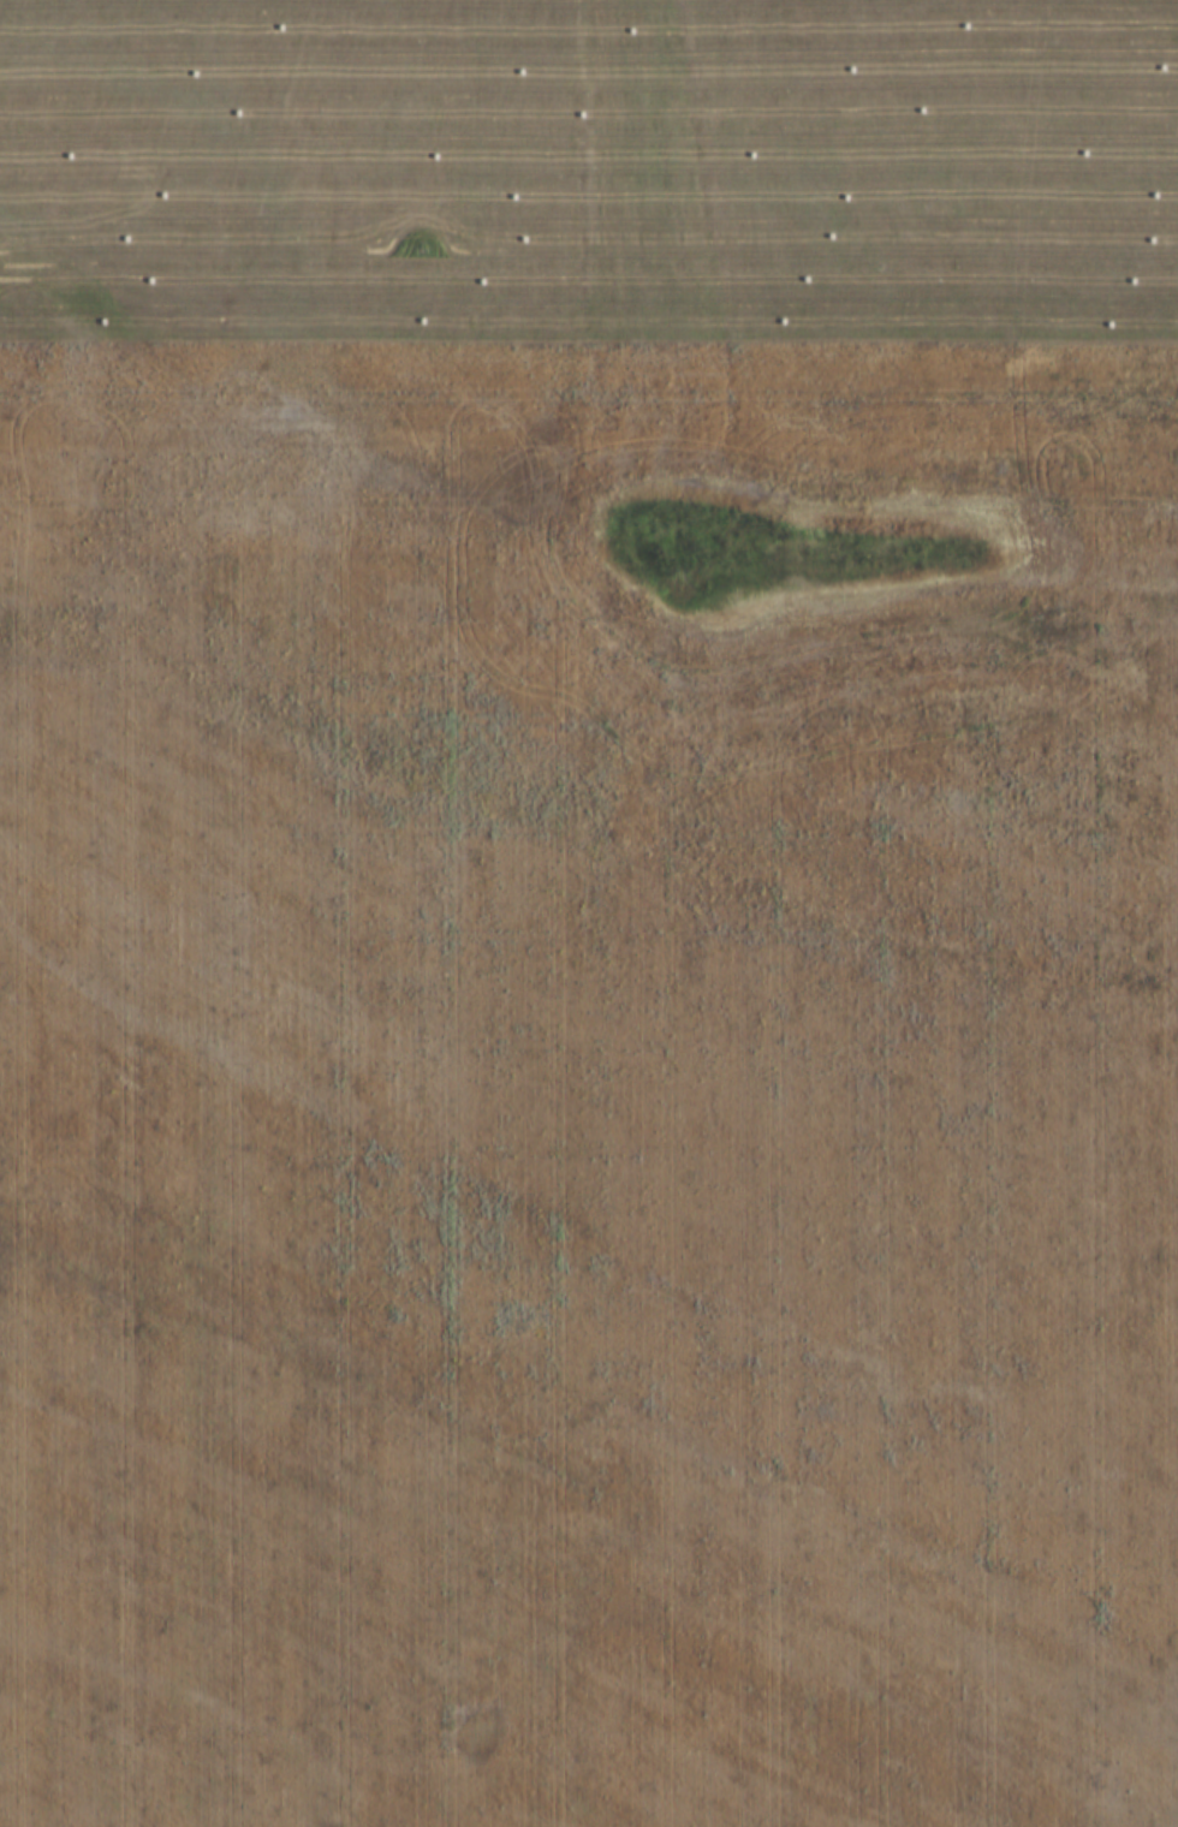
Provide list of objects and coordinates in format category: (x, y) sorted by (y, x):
quarry: (743, 399)
road: (581, 1349)

